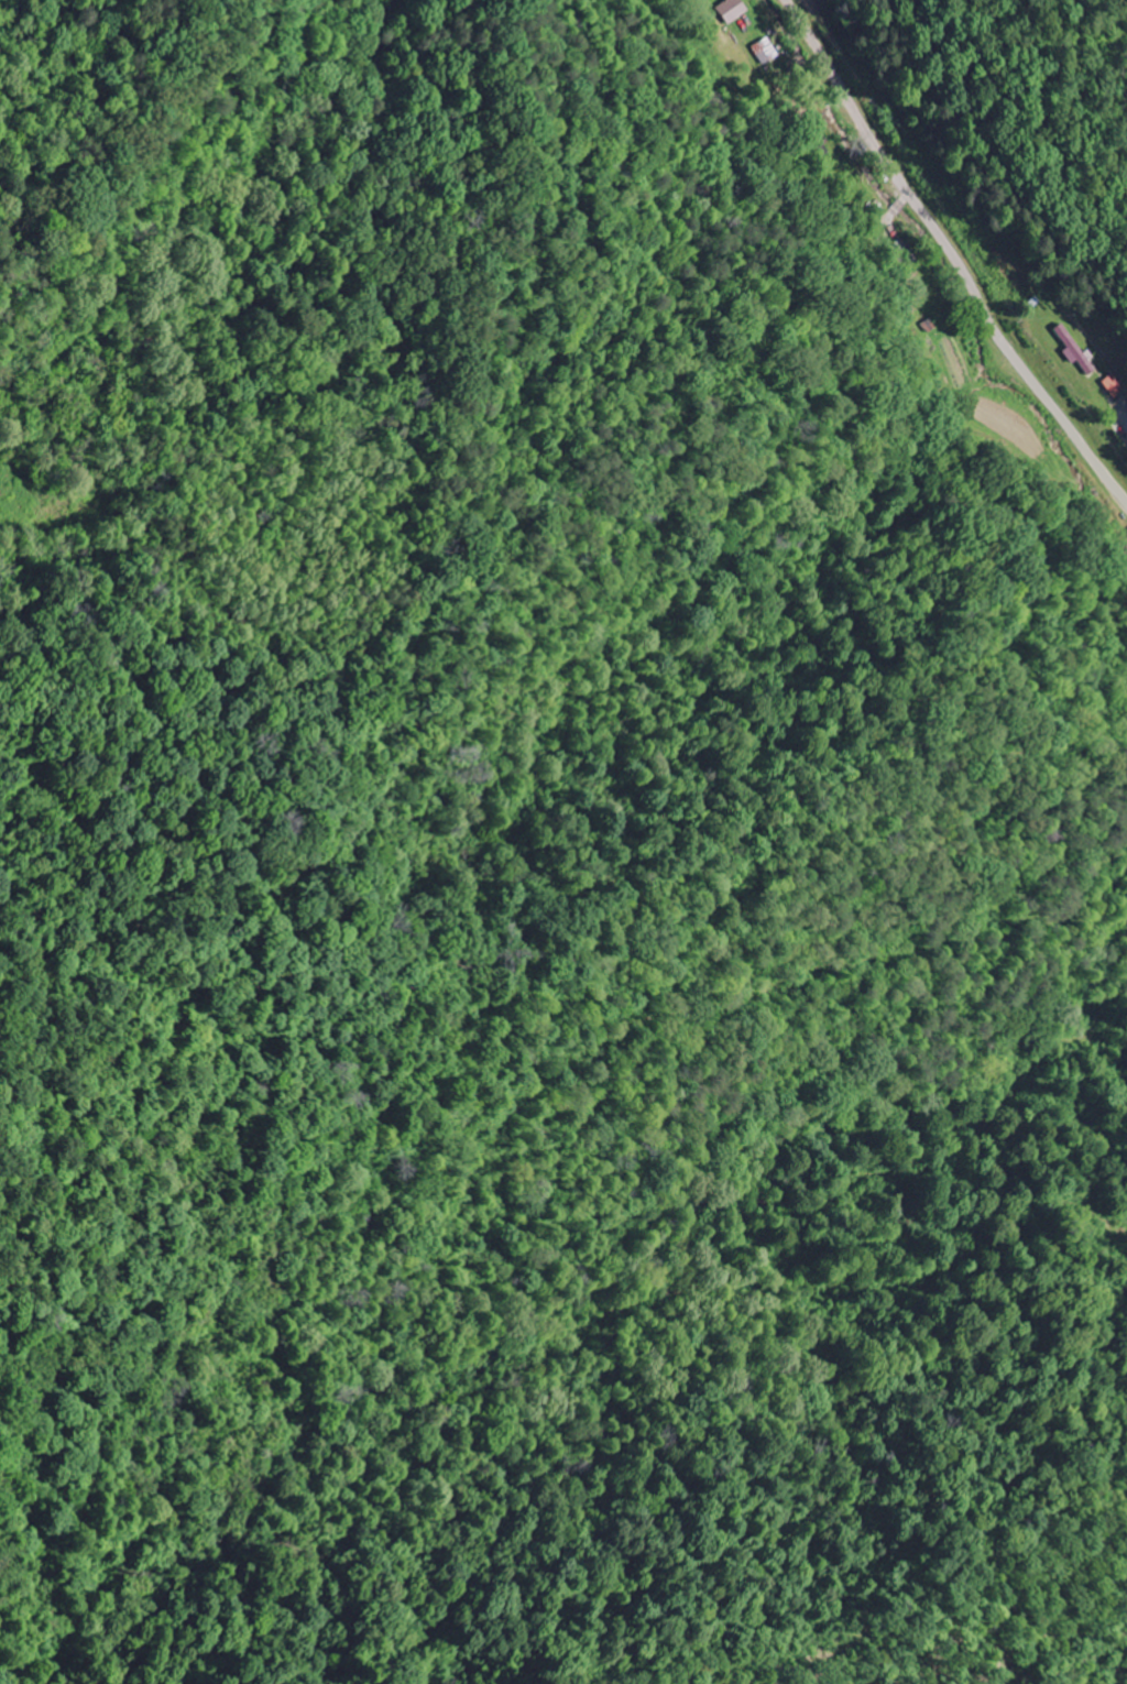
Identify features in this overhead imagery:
building: (732, 10)
building: (766, 51)
road: (952, 252)

